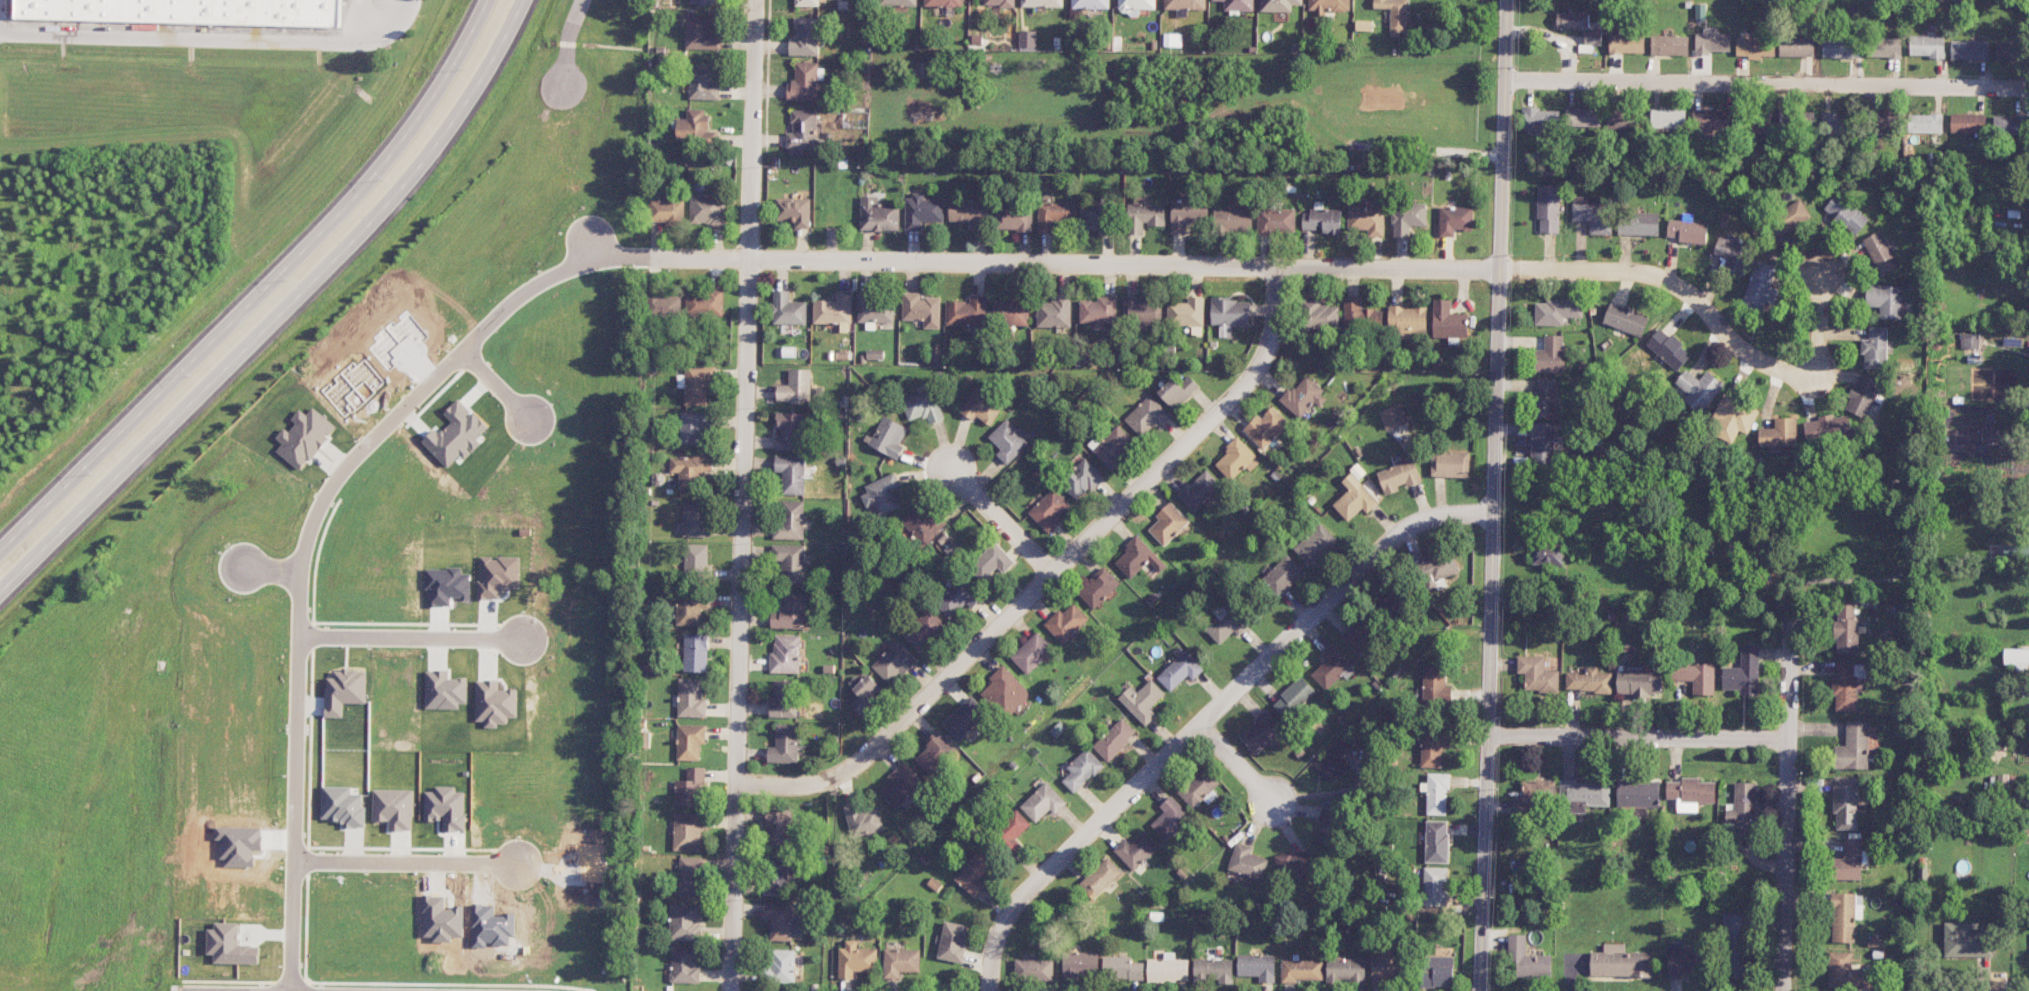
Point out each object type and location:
building: (703, 1)
building: (810, 2)
building: (897, 2)
building: (944, 3)
building: (1000, 3)
building: (1041, 3)
building: (1090, 4)
building: (1185, 4)
building: (1238, 5)
building: (1278, 5)
building: (1135, 6)
building: (1328, 6)
building: (185, 11)
building: (1395, 15)
building: (1364, 25)
building: (1578, 26)
building: (702, 33)
building: (805, 36)
road: (216, 40)
building: (1028, 40)
building: (1173, 40)
road: (569, 43)
building: (1626, 43)
building: (1711, 43)
building: (1669, 45)
building: (1927, 46)
building: (1755, 47)
building: (1796, 47)
building: (1884, 47)
building: (1840, 48)
building: (1969, 49)
building: (2008, 51)
building: (703, 82)
building: (803, 82)
road: (1766, 83)
building: (1786, 115)
building: (1583, 117)
building: (1621, 117)
building: (1668, 118)
building: (1541, 119)
building: (1711, 121)
building: (1885, 121)
building: (1925, 123)
building: (1967, 123)
building: (1835, 124)
building: (2009, 126)
building: (695, 127)
building: (803, 132)
building: (1548, 207)
building: (708, 209)
building: (667, 211)
building: (794, 211)
building: (922, 211)
building: (968, 211)
building: (1845, 214)
building: (878, 215)
building: (1055, 215)
building: (1144, 215)
building: (1187, 215)
building: (1094, 217)
building: (1594, 217)
building: (1791, 217)
building: (1014, 218)
building: (1407, 218)
building: (1367, 219)
building: (1232, 220)
building: (1323, 220)
building: (1455, 220)
building: (1276, 221)
building: (1639, 223)
building: (1688, 231)
building: (1880, 252)
building: (1732, 254)
road: (863, 258)
road: (259, 285)
building: (1762, 285)
building: (1885, 300)
building: (704, 303)
building: (663, 306)
building: (875, 308)
building: (788, 309)
building: (833, 309)
building: (922, 309)
building: (1099, 311)
building: (1142, 311)
building: (1556, 311)
building: (966, 312)
building: (1055, 312)
building: (1186, 312)
building: (1010, 313)
road: (283, 314)
building: (1229, 314)
building: (1321, 314)
building: (1361, 316)
building: (1625, 319)
building: (1448, 320)
building: (1407, 321)
road: (1722, 328)
building: (1969, 340)
building: (1875, 348)
building: (1669, 349)
building: (875, 354)
building: (1551, 355)
building: (696, 384)
road: (498, 385)
building: (796, 387)
building: (1697, 389)
building: (1178, 391)
building: (1862, 396)
building: (1303, 397)
building: (1545, 398)
building: (922, 406)
building: (981, 407)
building: (1146, 416)
building: (1393, 416)
building: (1732, 418)
building: (1266, 427)
building: (693, 428)
building: (1827, 428)
building: (792, 431)
building: (1779, 433)
building: (888, 436)
building: (304, 437)
building: (1008, 440)
building: (1542, 443)
building: (1113, 445)
building: (1236, 459)
building: (1450, 464)
building: (691, 470)
building: (791, 473)
building: (1399, 476)
building: (1082, 479)
building: (1199, 490)
building: (882, 494)
road: (742, 495)
road: (1492, 495)
building: (1355, 498)
building: (1051, 509)
road: (1911, 509)
road: (992, 510)
building: (696, 519)
building: (790, 519)
building: (924, 524)
building: (1168, 524)
park: (1715, 533)
building: (1316, 544)
building: (1548, 554)
building: (1138, 557)
building: (695, 561)
building: (992, 561)
building: (790, 562)
building: (1438, 570)
road: (272, 571)
road: (1050, 573)
building: (497, 575)
building: (1282, 576)
building: (446, 586)
building: (1098, 587)
building: (957, 598)
building: (691, 611)
building: (790, 612)
building: (1066, 622)
building: (1226, 625)
building: (924, 629)
building: (1846, 630)
road: (413, 636)
building: (1360, 638)
building: (695, 652)
building: (1032, 653)
building: (785, 654)
building: (2016, 656)
building: (894, 662)
building: (1333, 668)
building: (1180, 670)
building: (1744, 672)
building: (1538, 674)
building: (1696, 676)
building: (1589, 681)
building: (1639, 681)
building: (1435, 684)
building: (1846, 685)
building: (444, 690)
building: (344, 691)
building: (1005, 691)
building: (866, 694)
building: (1294, 698)
building: (691, 699)
building: (783, 699)
building: (1143, 701)
building: (494, 703)
road: (1207, 715)
building: (964, 718)
building: (1261, 732)
road: (1638, 736)
building: (1114, 739)
building: (690, 741)
road: (298, 742)
building: (784, 744)
building: (1853, 746)
building: (1432, 748)
building: (935, 753)
building: (1334, 761)
building: (1082, 770)
road: (1244, 771)
building: (901, 785)
building: (1199, 787)
building: (690, 788)
building: (1436, 793)
building: (1690, 793)
road: (1785, 793)
building: (1638, 794)
building: (1537, 795)
building: (1584, 795)
building: (1043, 802)
building: (1845, 802)
building: (343, 806)
building: (394, 808)
building: (446, 808)
building: (1742, 810)
building: (1171, 818)
building: (864, 819)
building: (1330, 826)
building: (778, 828)
building: (1012, 829)
building: (687, 831)
building: (1437, 841)
building: (1136, 850)
building: (1849, 861)
building: (1247, 862)
road: (406, 863)
building: (1295, 864)
building: (975, 872)
building: (690, 875)
building: (777, 875)
building: (1100, 878)
building: (1435, 886)
building: (1859, 907)
building: (1843, 917)
building: (782, 919)
building: (684, 922)
building: (953, 941)
building: (1966, 941)
building: (230, 945)
building: (1737, 945)
building: (1528, 959)
building: (1684, 959)
building: (856, 960)
building: (901, 962)
building: (1620, 962)
building: (684, 964)
building: (1081, 965)
building: (781, 966)
building: (1258, 966)
building: (1385, 967)
building: (1122, 968)
building: (1034, 970)
building: (1168, 970)
building: (1302, 970)
building: (1346, 970)
building: (1213, 971)
building: (1438, 971)
building: (1847, 972)

